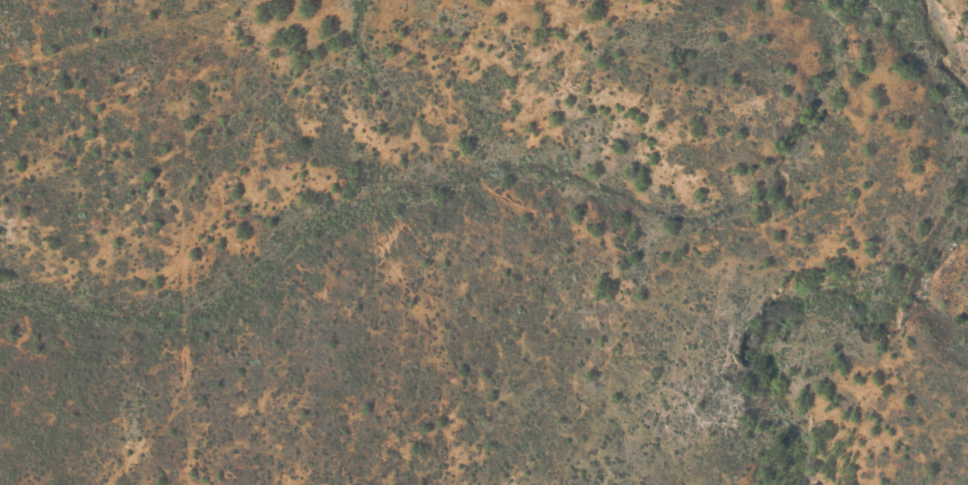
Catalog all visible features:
road: (964, 1)

